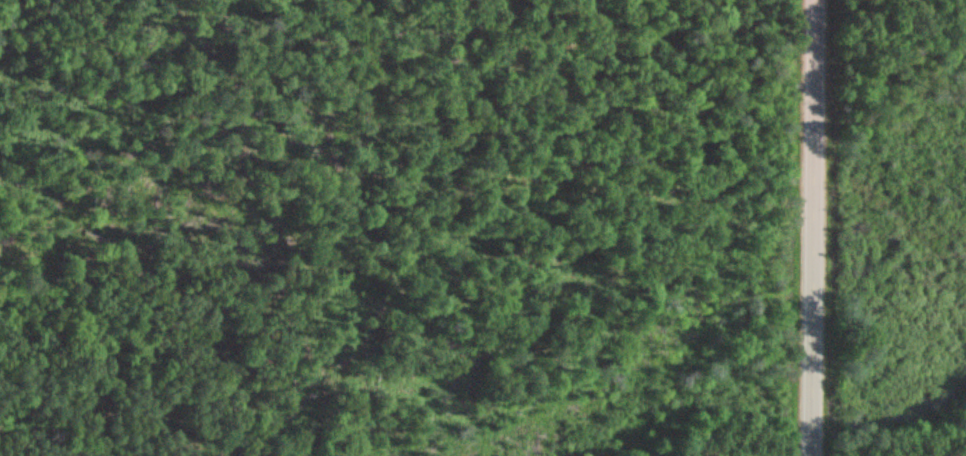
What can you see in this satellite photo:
road: (810, 228)

